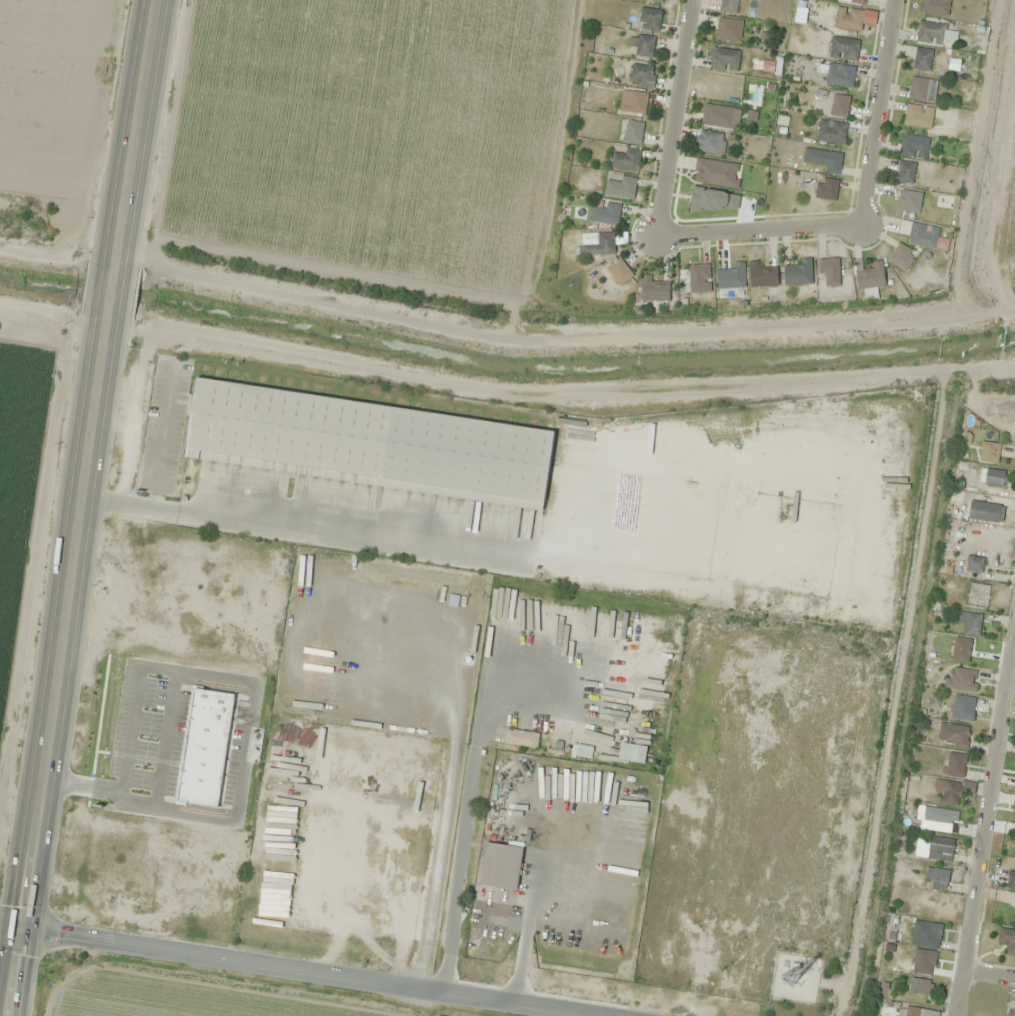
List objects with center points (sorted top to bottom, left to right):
building: (658, 0)
building: (853, 1)
building: (728, 6)
building: (935, 6)
building: (848, 18)
building: (650, 19)
building: (724, 29)
building: (935, 33)
building: (641, 45)
building: (844, 48)
building: (725, 59)
building: (922, 59)
building: (838, 74)
building: (642, 76)
building: (922, 89)
building: (633, 102)
building: (840, 106)
building: (718, 116)
building: (918, 116)
building: (633, 131)
building: (831, 131)
building: (710, 142)
building: (914, 146)
building: (626, 159)
building: (830, 162)
building: (905, 172)
building: (717, 173)
building: (621, 188)
building: (826, 188)
building: (910, 201)
building: (605, 214)
road: (751, 230)
building: (927, 237)
building: (597, 243)
building: (902, 257)
building: (829, 271)
building: (620, 272)
building: (798, 273)
building: (731, 276)
building: (762, 276)
building: (699, 278)
building: (869, 279)
building: (653, 290)
building: (369, 444)
building: (989, 451)
building: (993, 477)
road: (79, 507)
building: (985, 512)
building: (974, 564)
building: (977, 594)
building: (970, 623)
building: (962, 680)
building: (963, 708)
building: (952, 735)
building: (953, 764)
building: (950, 792)
road: (986, 814)
building: (940, 849)
building: (501, 866)
building: (938, 878)
building: (1010, 880)
building: (930, 931)
road: (9, 940)
building: (1007, 941)
traffic signals: (18, 942)
road: (990, 973)
road: (291, 975)
building: (920, 986)
building: (1011, 1012)

